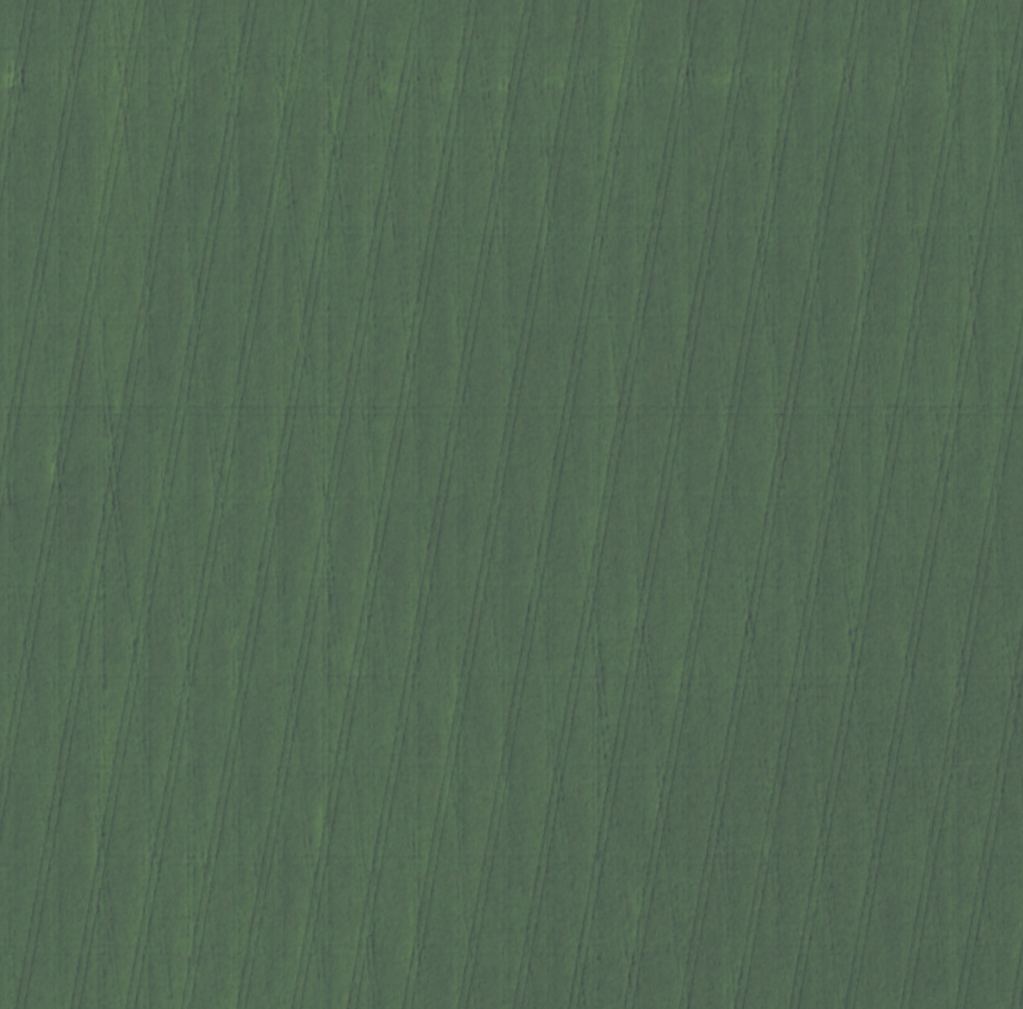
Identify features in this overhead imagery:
crop: (511, 504)

